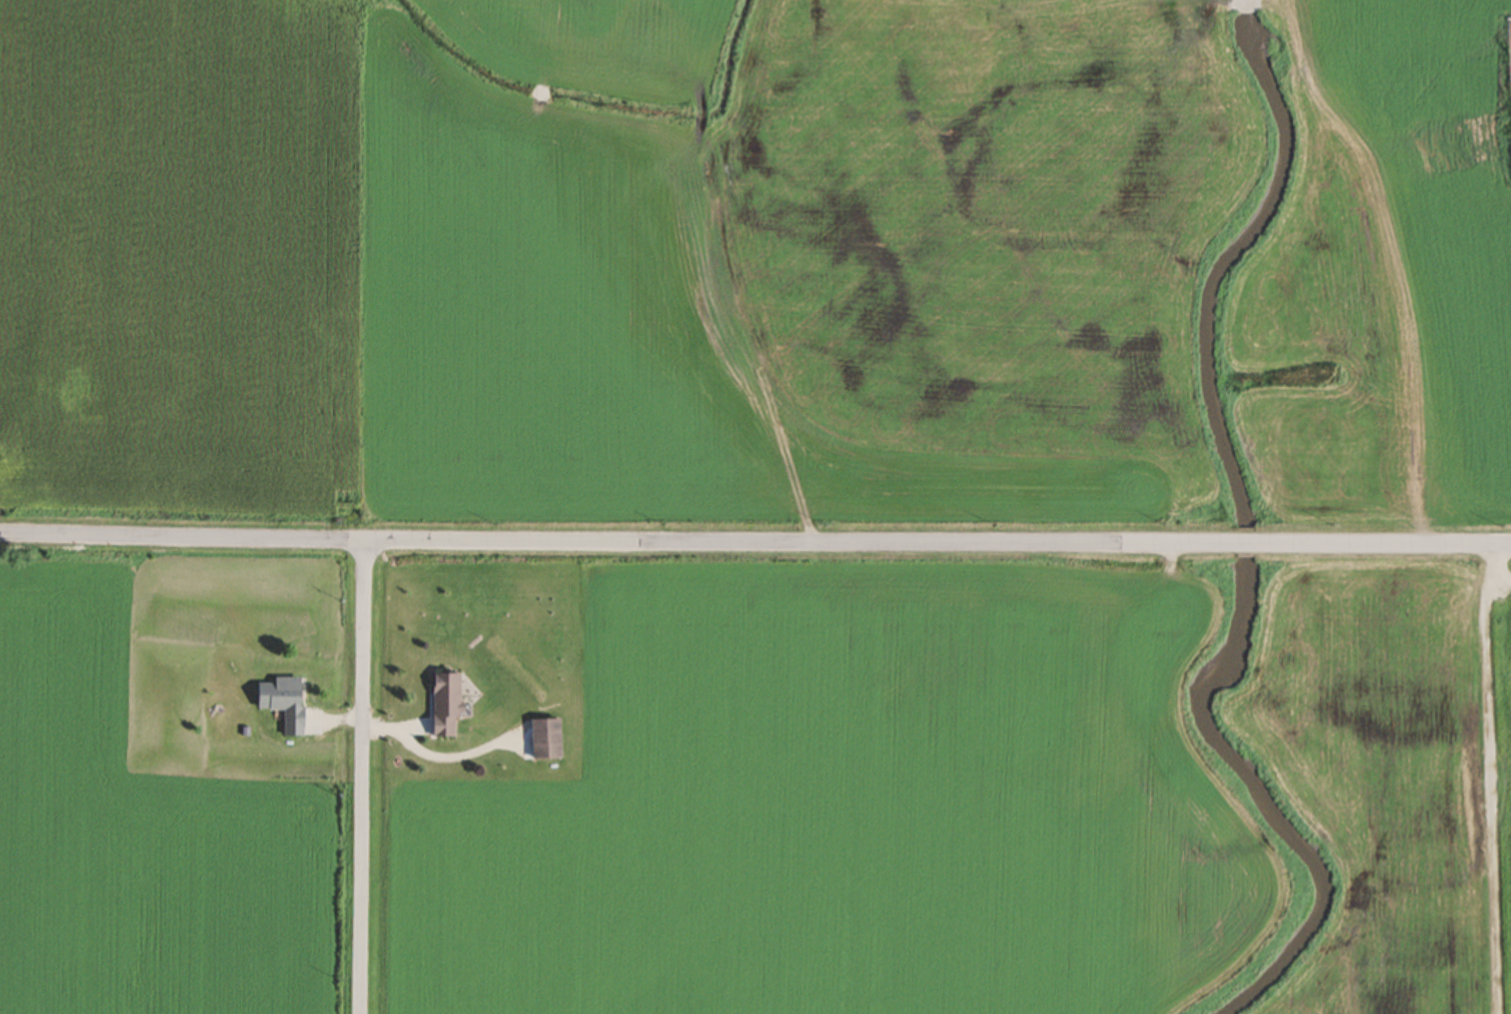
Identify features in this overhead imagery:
road: (755, 542)
road: (1500, 568)
building: (280, 704)
building: (441, 706)
building: (543, 742)
road: (364, 776)

